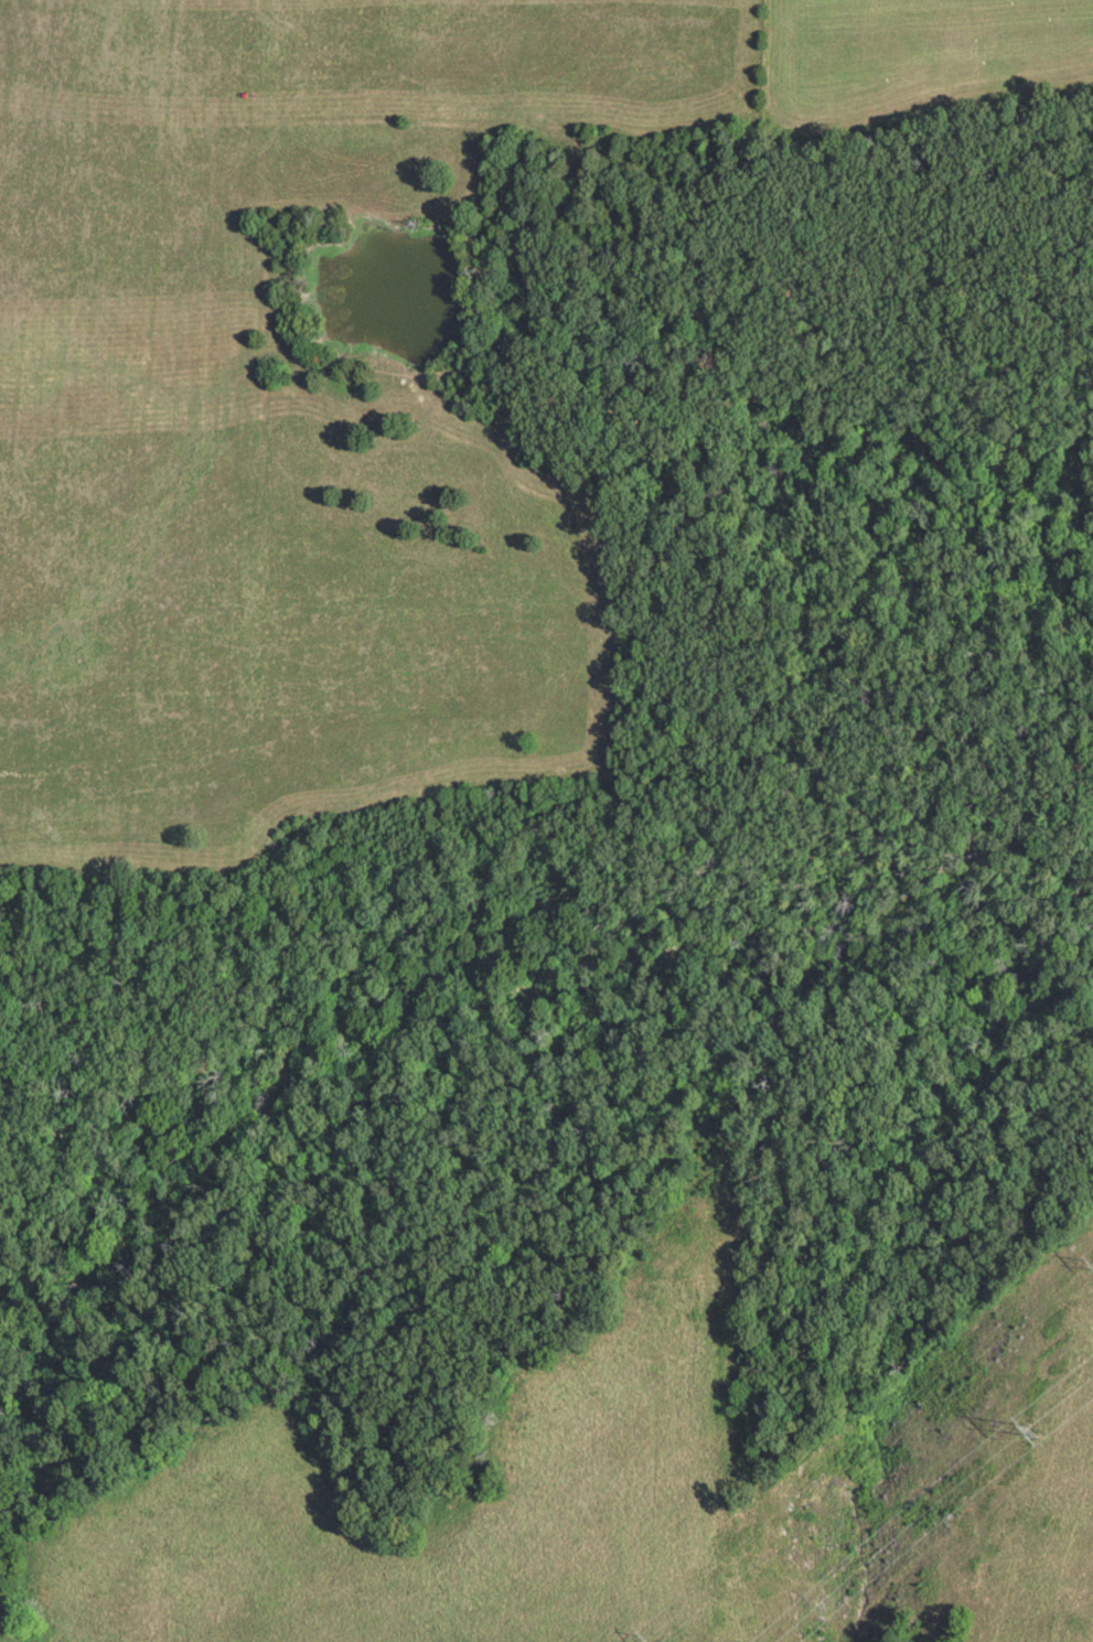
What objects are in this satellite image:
power tower: (1048, 1430)

